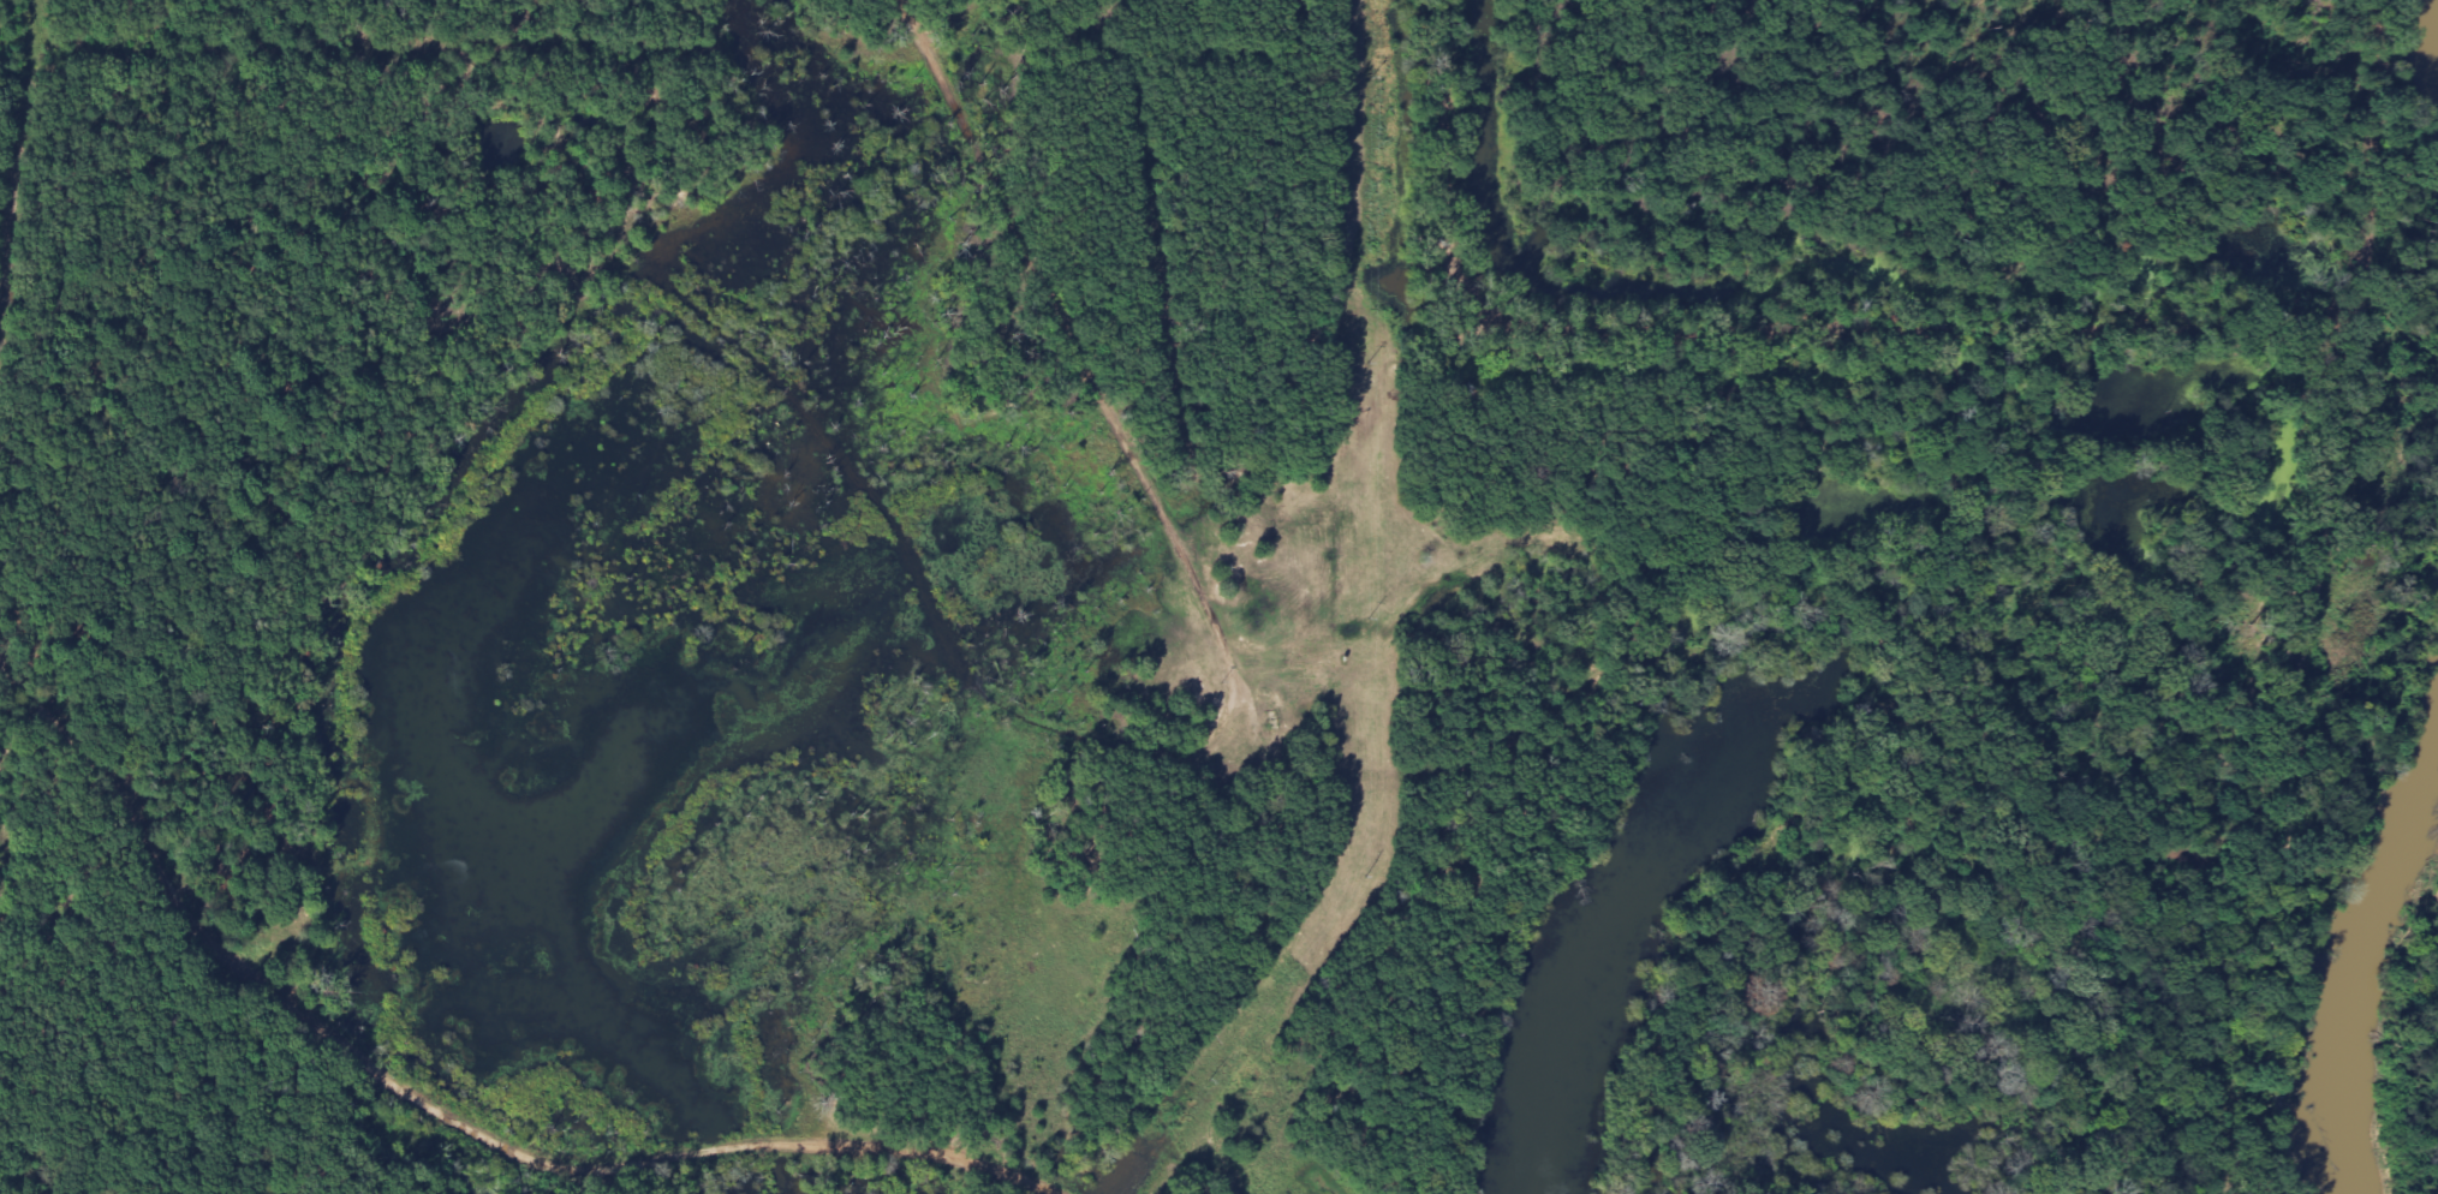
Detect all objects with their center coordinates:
road: (1178, 757)
river: (2366, 968)
road: (439, 1116)

